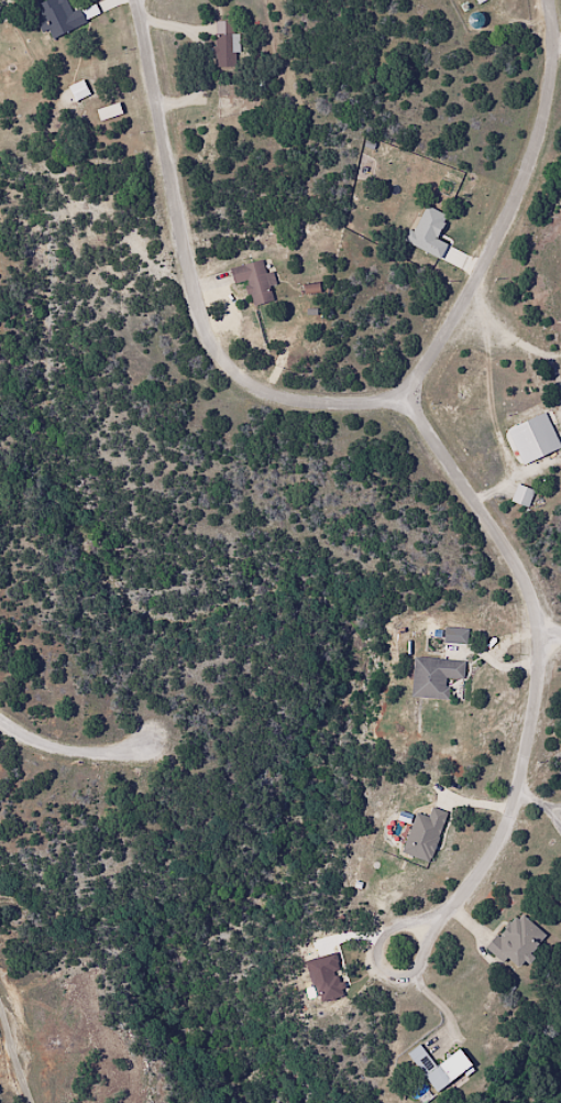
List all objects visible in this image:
building: (57, 17)
building: (226, 51)
building: (254, 281)
road: (196, 284)
building: (542, 447)
road: (458, 458)
building: (521, 496)
building: (531, 502)
building: (463, 638)
road: (553, 641)
building: (442, 681)
road: (82, 744)
building: (432, 840)
building: (525, 954)
road: (384, 973)
road: (13, 1057)
building: (446, 1082)

